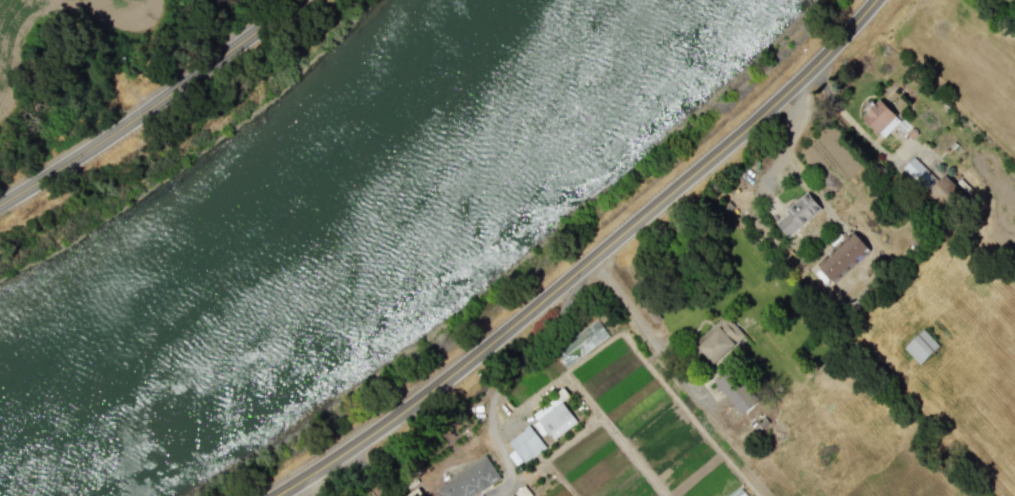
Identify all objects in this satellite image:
road: (152, 110)
road: (844, 115)
building: (880, 118)
road: (785, 157)
building: (919, 171)
building: (946, 193)
building: (797, 214)
building: (841, 255)
road: (589, 262)
river: (347, 274)
building: (720, 338)
building: (921, 346)
road: (668, 360)
road: (515, 368)
building: (735, 390)
building: (553, 418)
building: (524, 445)
road: (369, 473)
building: (467, 481)
road: (504, 489)
building: (739, 492)

